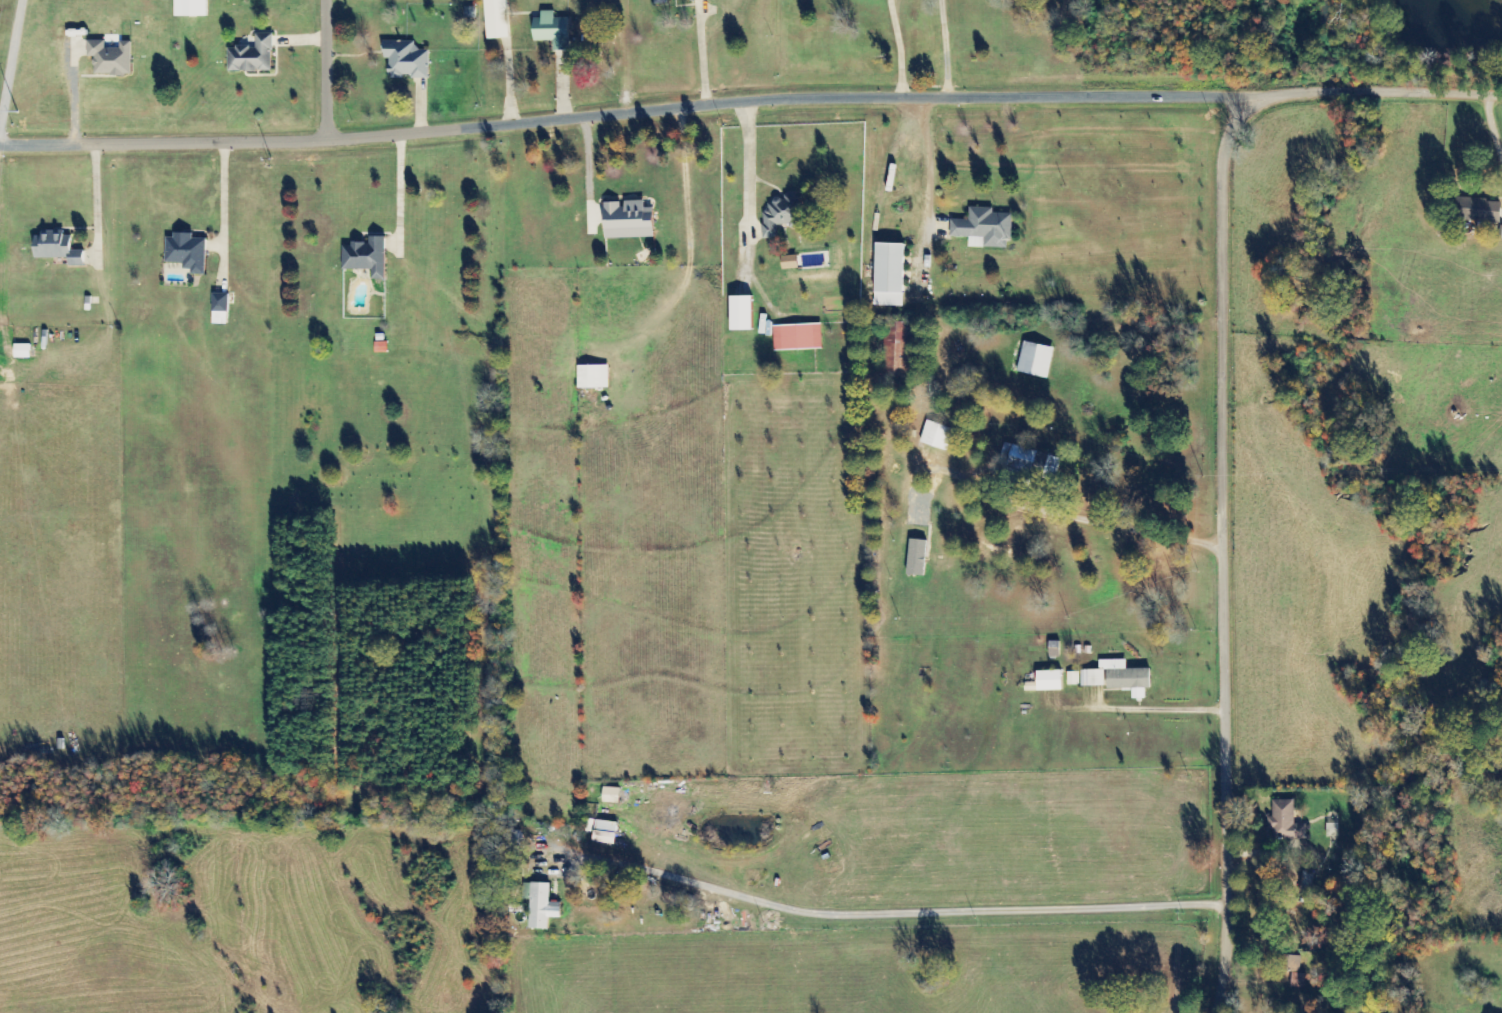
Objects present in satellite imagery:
building: (696, 0)
building: (660, 2)
building: (191, 8)
building: (496, 19)
building: (552, 30)
building: (252, 56)
building: (110, 58)
building: (406, 60)
road: (336, 71)
road: (1397, 92)
road: (646, 114)
building: (1479, 210)
building: (780, 213)
building: (627, 220)
building: (984, 228)
building: (57, 248)
building: (186, 252)
building: (367, 257)
building: (789, 262)
building: (889, 275)
building: (220, 309)
building: (741, 314)
building: (797, 337)
building: (899, 349)
building: (22, 351)
building: (1036, 360)
building: (593, 377)
building: (1017, 459)
building: (1051, 468)
road: (1231, 539)
building: (916, 557)
building: (1073, 678)
building: (1117, 678)
building: (1046, 682)
building: (610, 796)
building: (1285, 822)
building: (590, 826)
building: (1333, 829)
building: (605, 833)
building: (513, 840)
building: (1306, 884)
building: (542, 907)
building: (1294, 971)

